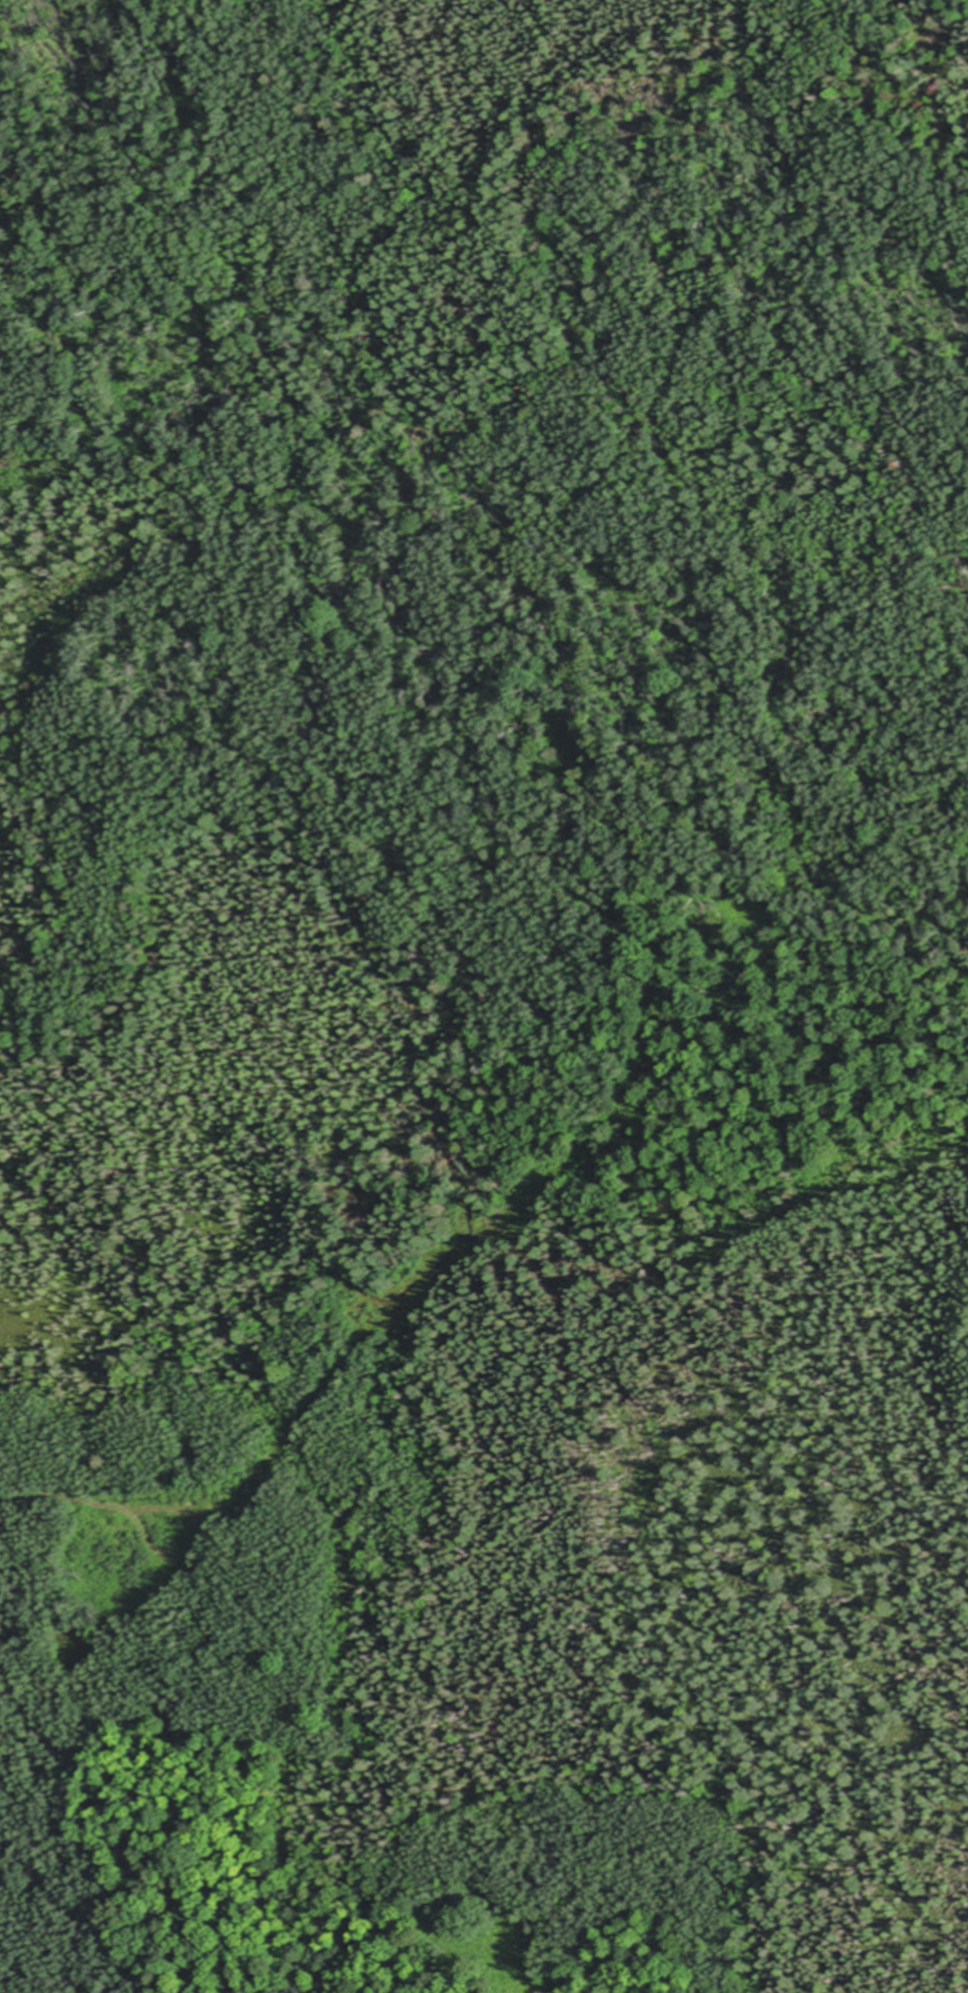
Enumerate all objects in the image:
road: (297, 1422)

